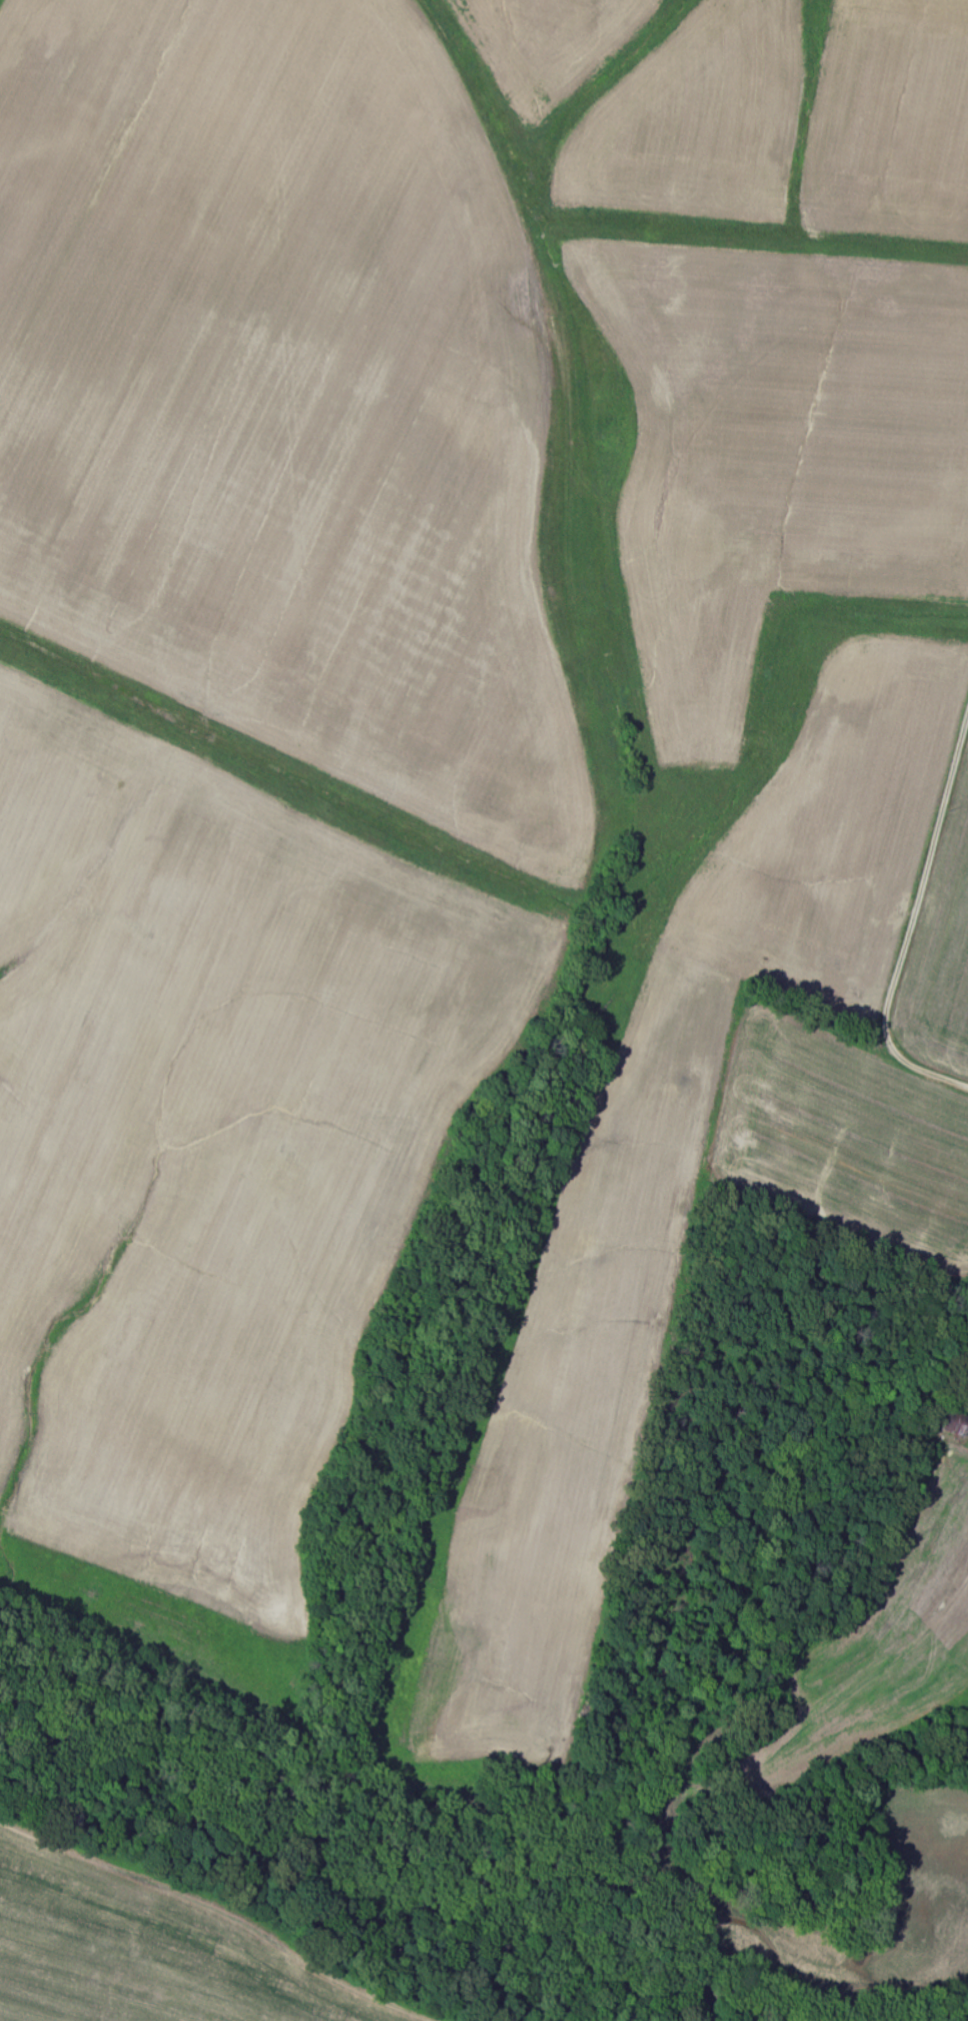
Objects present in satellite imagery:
road: (780, 146)

